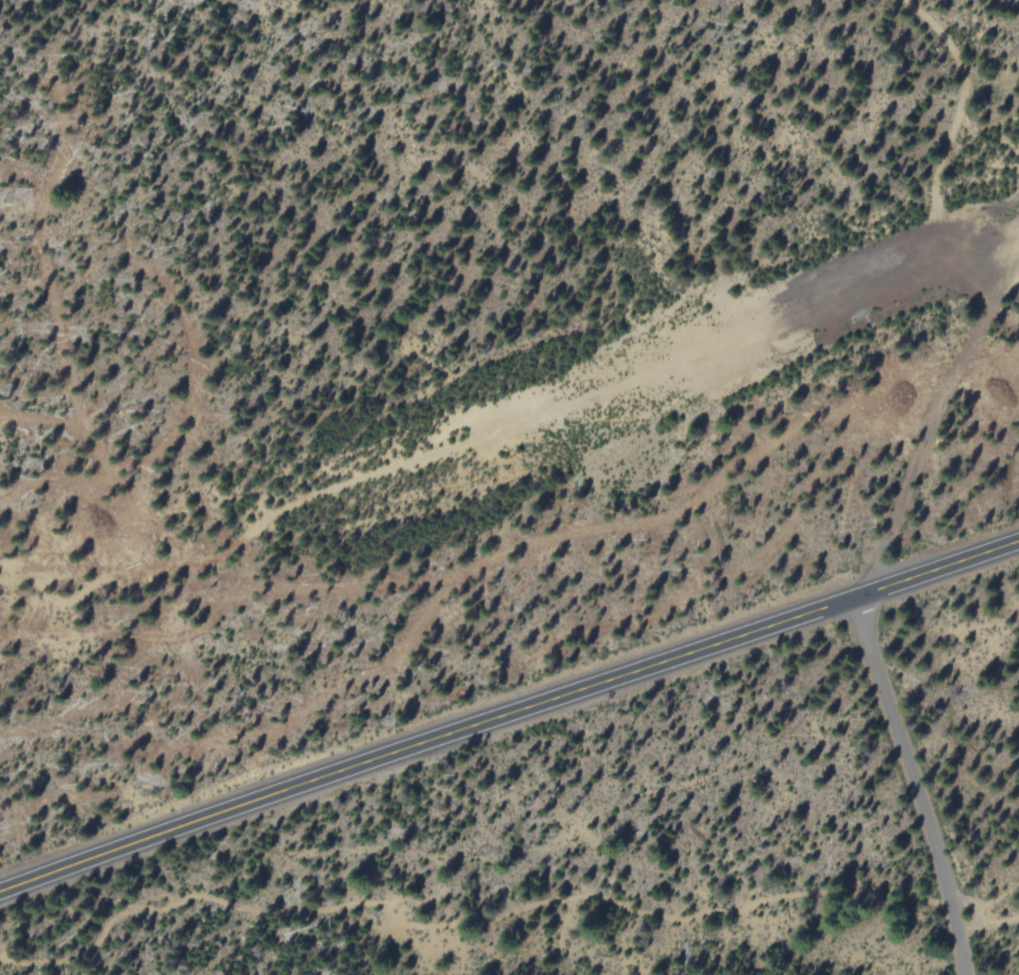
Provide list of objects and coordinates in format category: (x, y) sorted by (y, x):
road: (960, 106)
airport runway: (841, 303)
road: (949, 404)
road: (508, 714)
road: (914, 785)
road: (989, 927)

